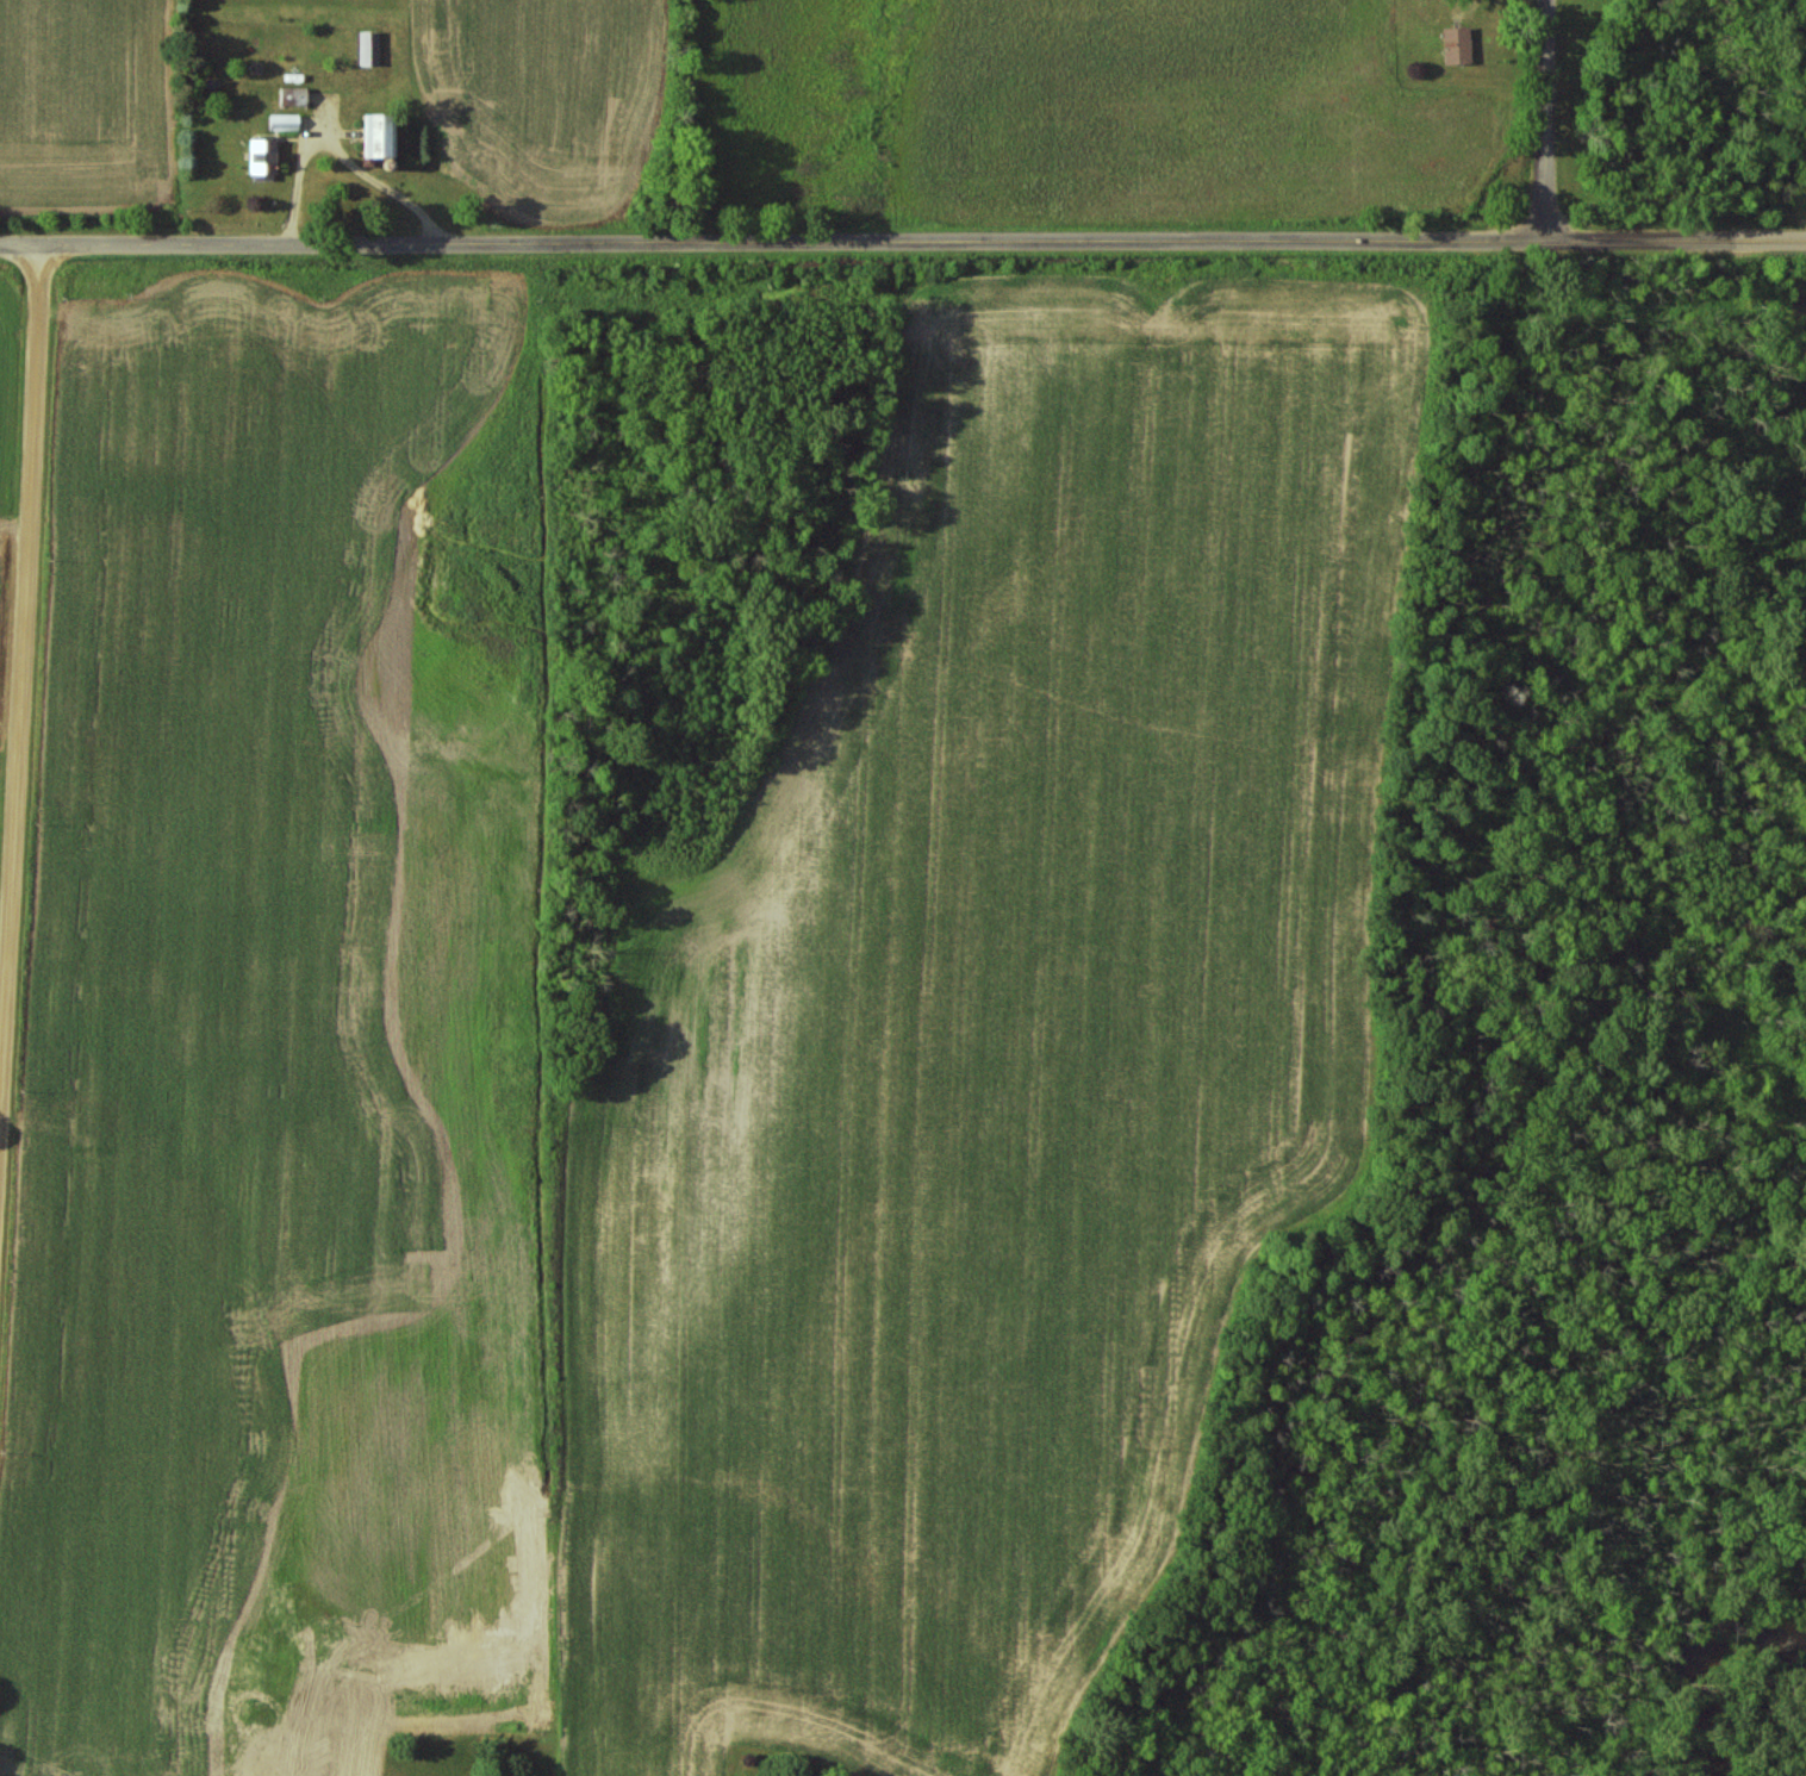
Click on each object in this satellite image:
building: (1455, 45)
building: (367, 48)
road: (1544, 120)
building: (282, 123)
building: (373, 135)
road: (343, 156)
building: (261, 160)
road: (902, 243)
road: (25, 672)
river: (1720, 1682)

